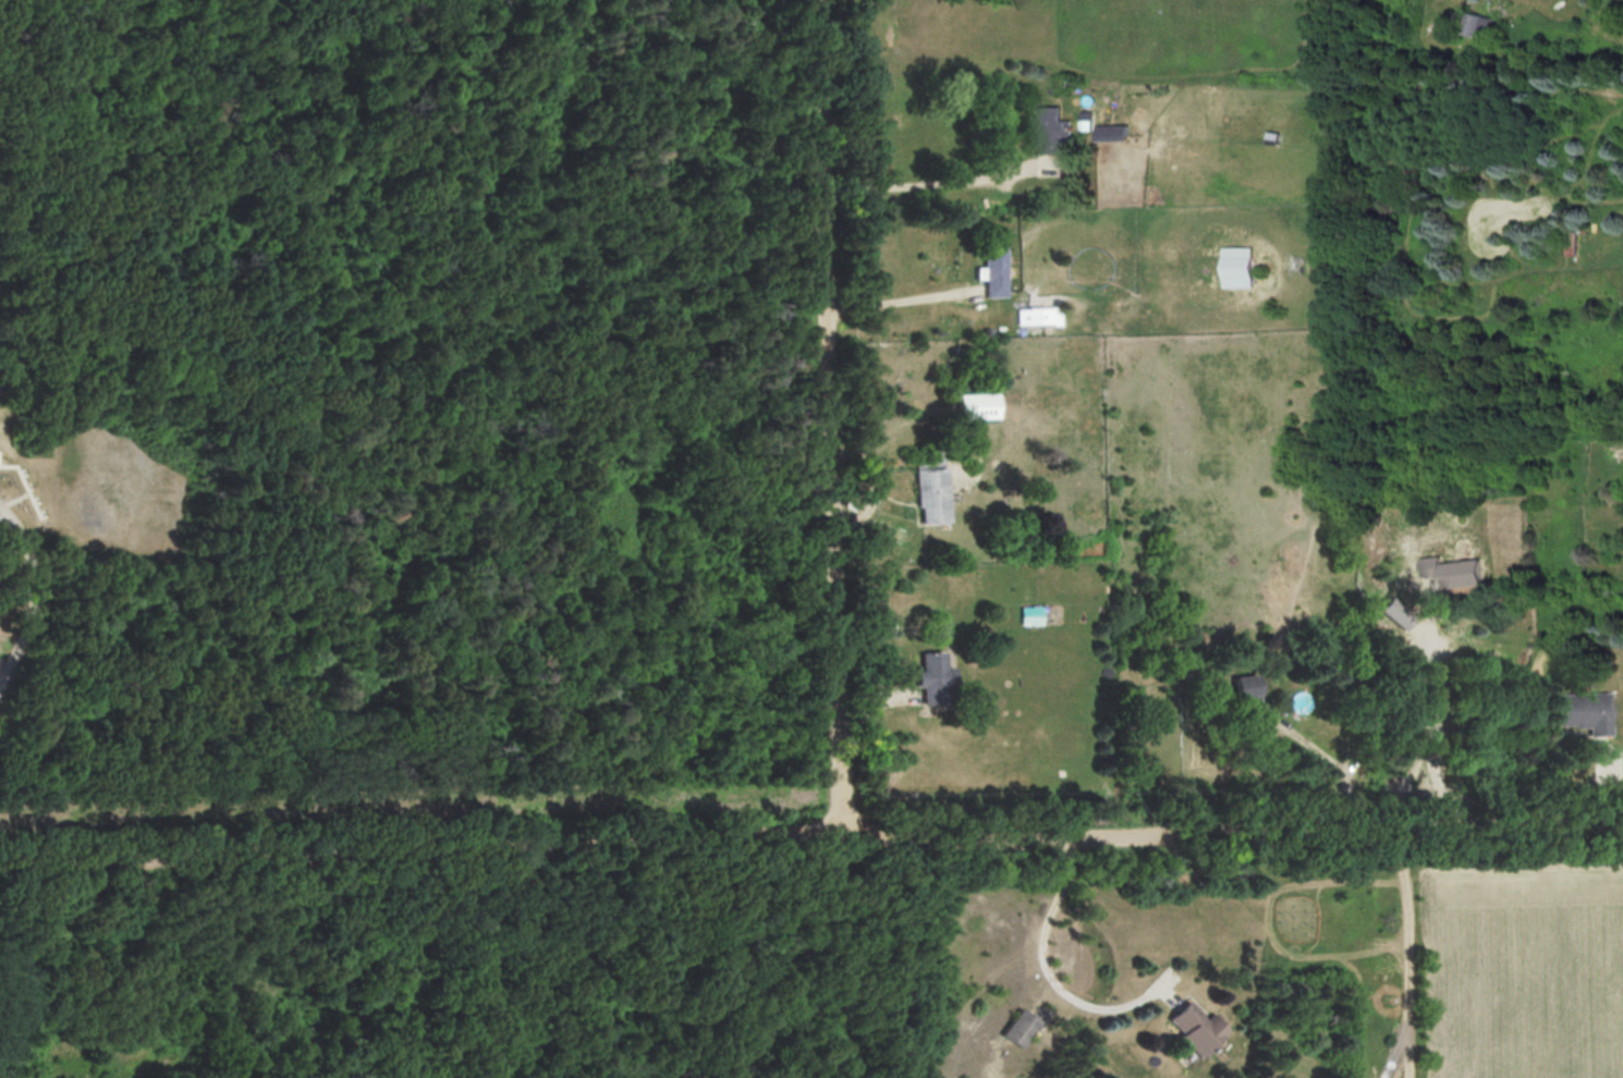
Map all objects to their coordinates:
building: (1471, 23)
building: (1049, 130)
road: (936, 183)
building: (1570, 243)
building: (1234, 267)
building: (993, 270)
road: (898, 299)
road: (831, 417)
road: (24, 481)
building: (930, 489)
building: (1317, 489)
park: (103, 490)
park: (416, 548)
road: (39, 598)
building: (1033, 615)
building: (930, 677)
building: (1247, 705)
building: (1583, 711)
road: (1429, 721)
road: (1338, 765)
road: (811, 835)
park: (1520, 954)
road: (1046, 977)
building: (1193, 1028)
building: (1022, 1029)

